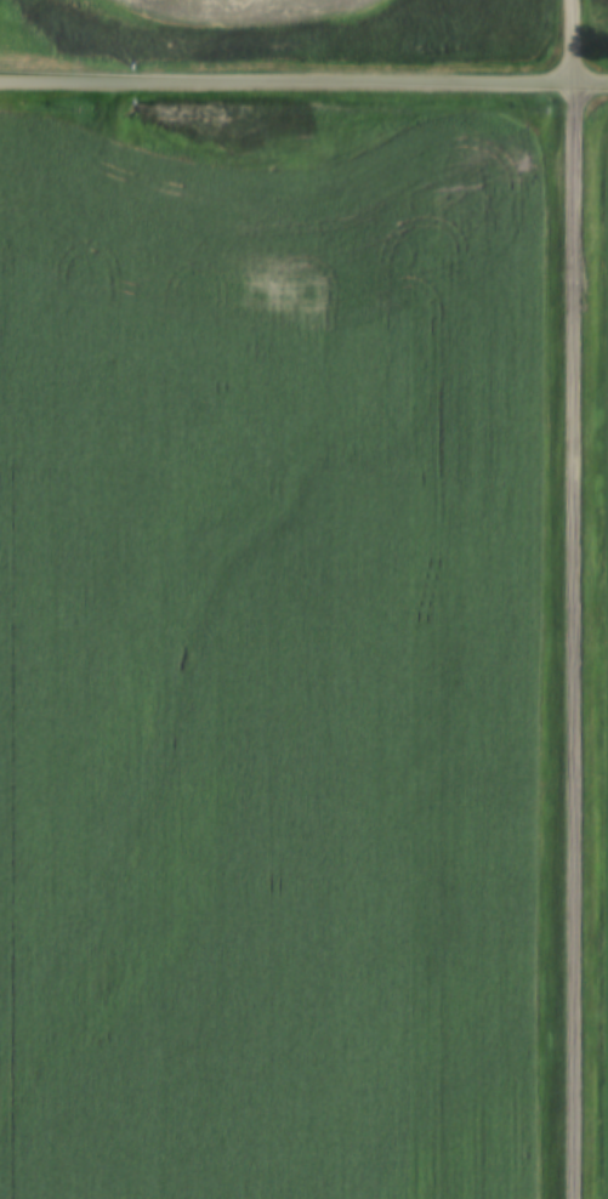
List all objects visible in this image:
road: (303, 87)
road: (575, 598)

